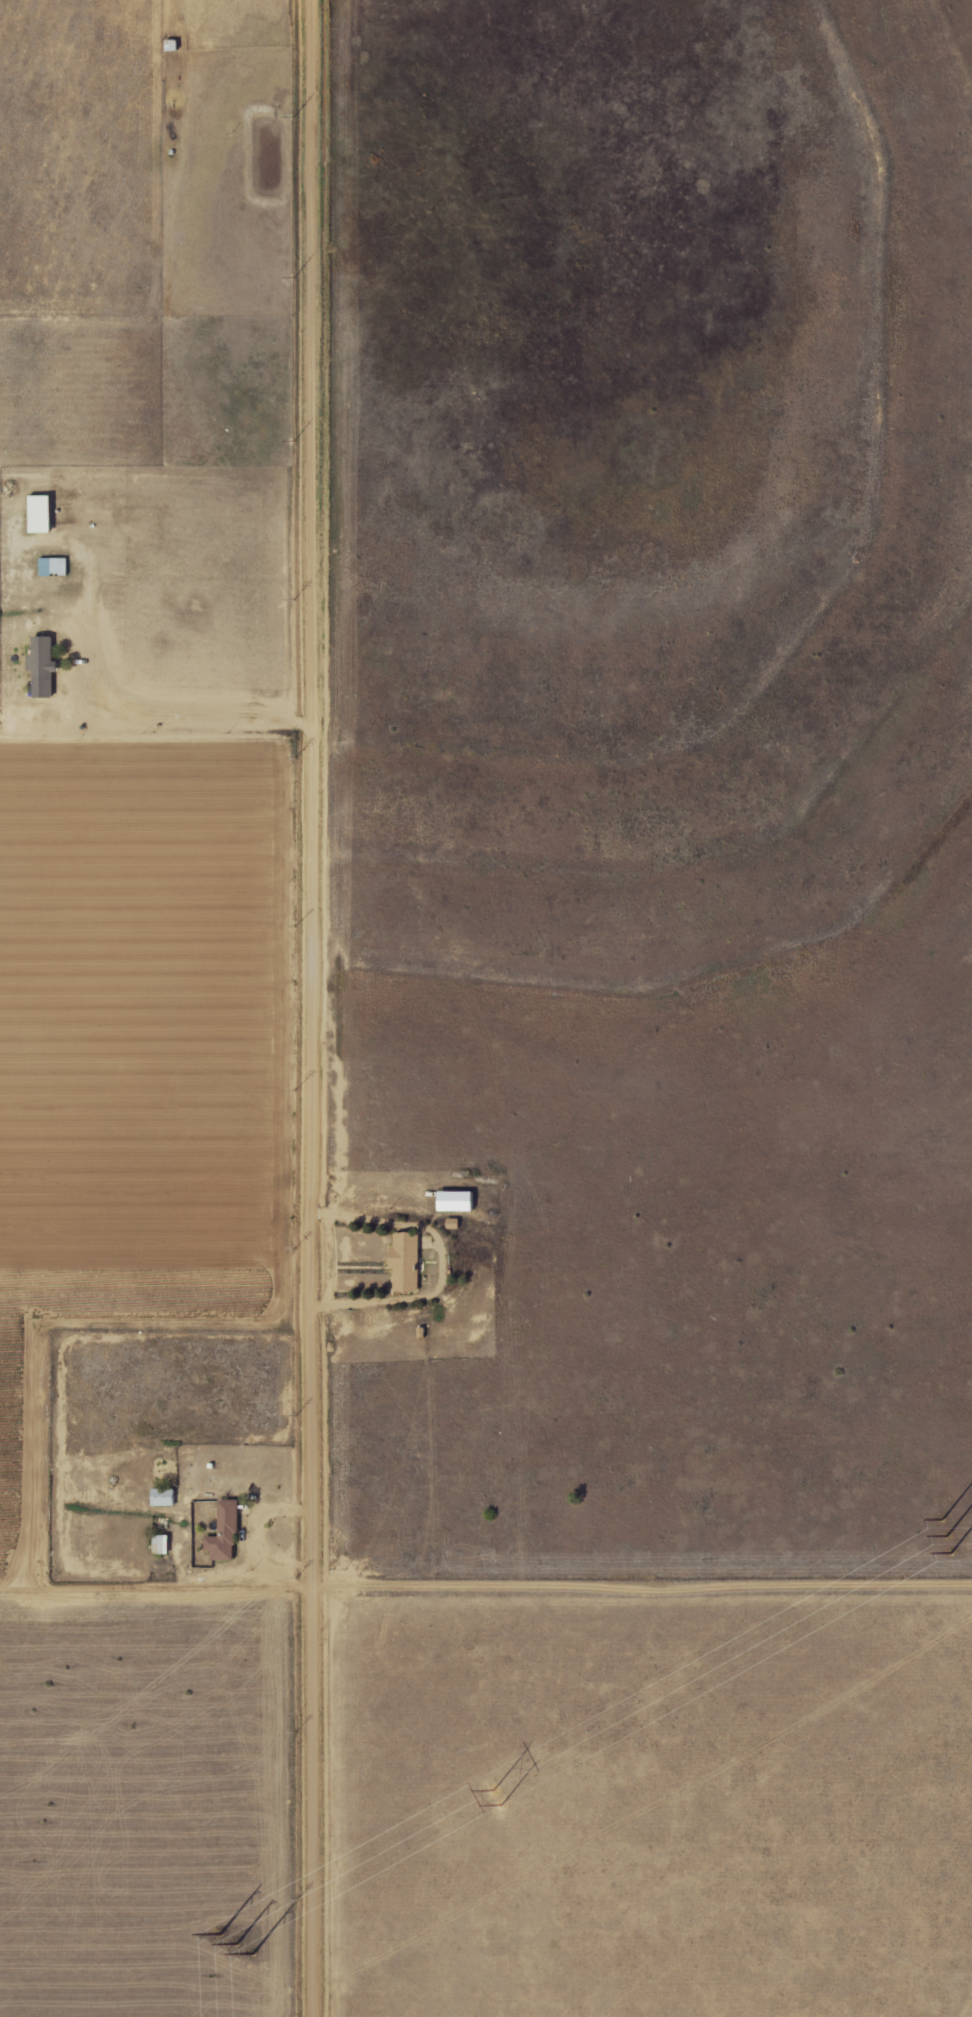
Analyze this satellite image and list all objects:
building: (37, 515)
building: (51, 567)
building: (39, 667)
road: (165, 713)
road: (312, 1008)
building: (453, 1201)
building: (402, 1261)
road: (444, 1264)
building: (160, 1497)
building: (222, 1532)
power tower: (946, 1538)
road: (485, 1553)
power tower: (497, 1801)
power tower: (242, 1947)

